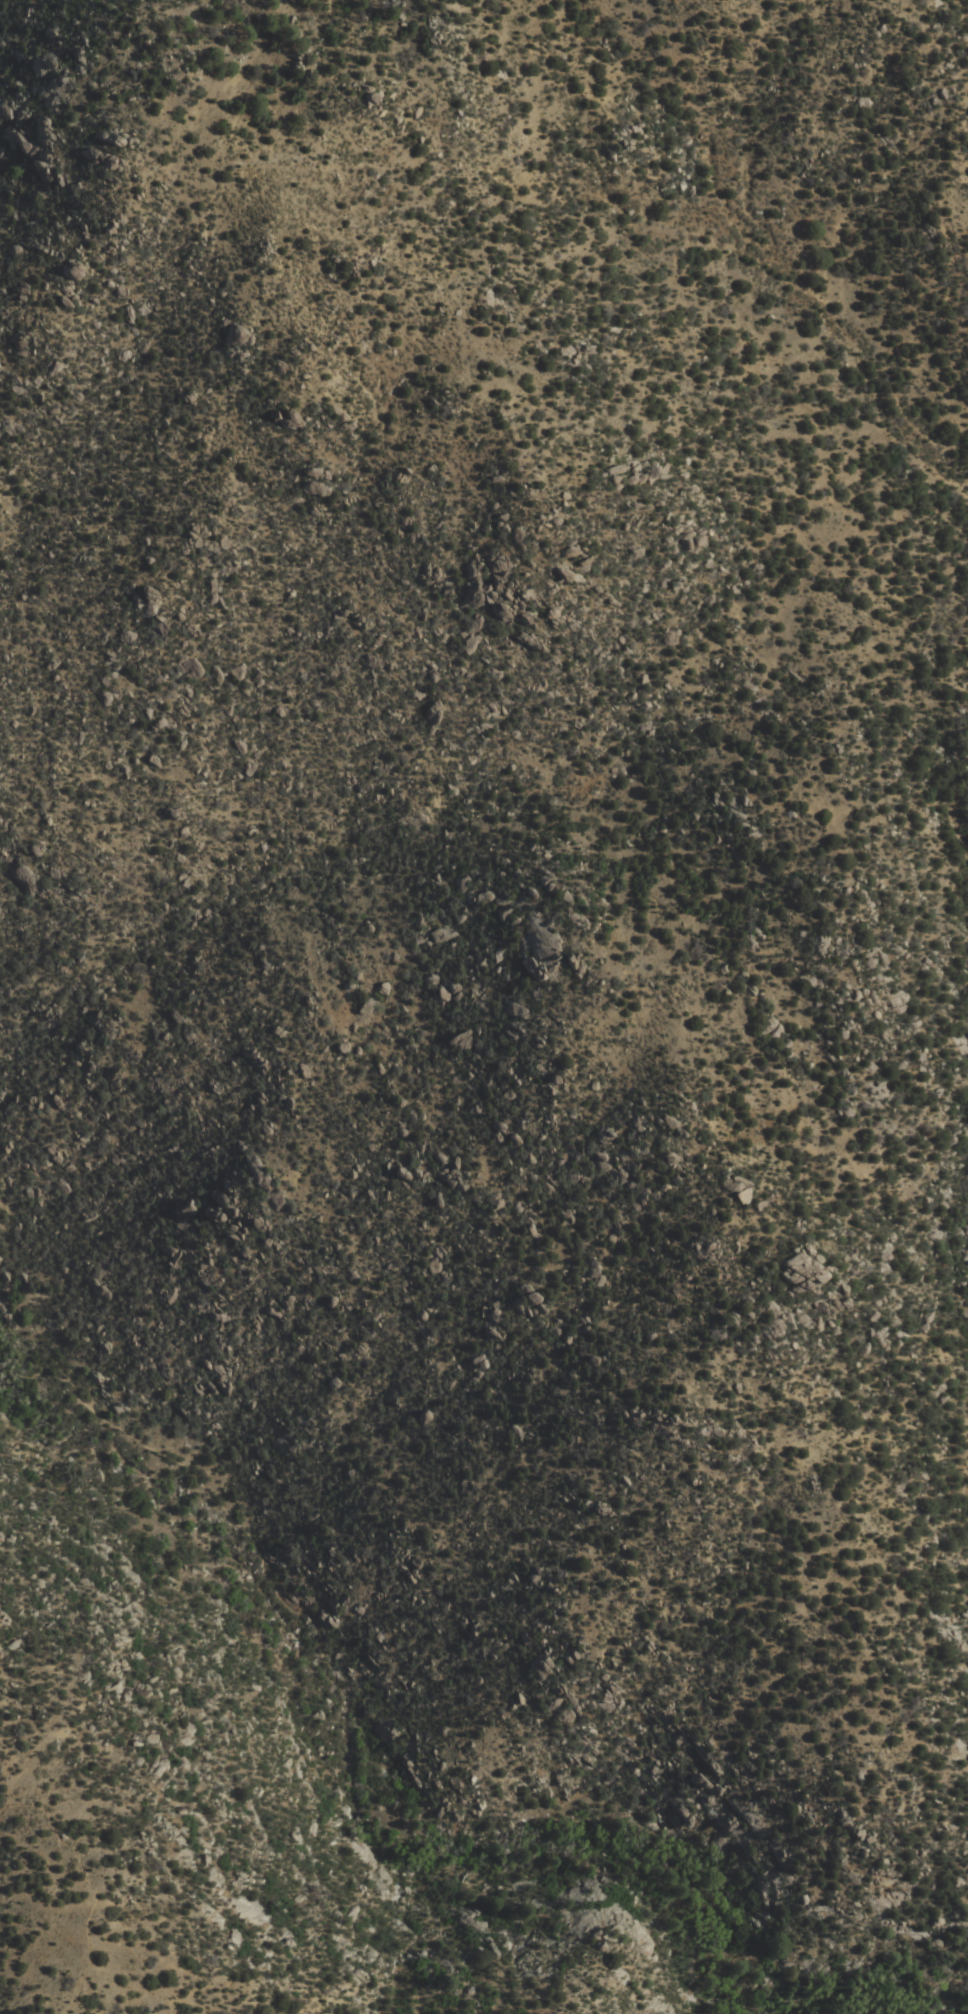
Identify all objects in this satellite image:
road: (75, 1856)

